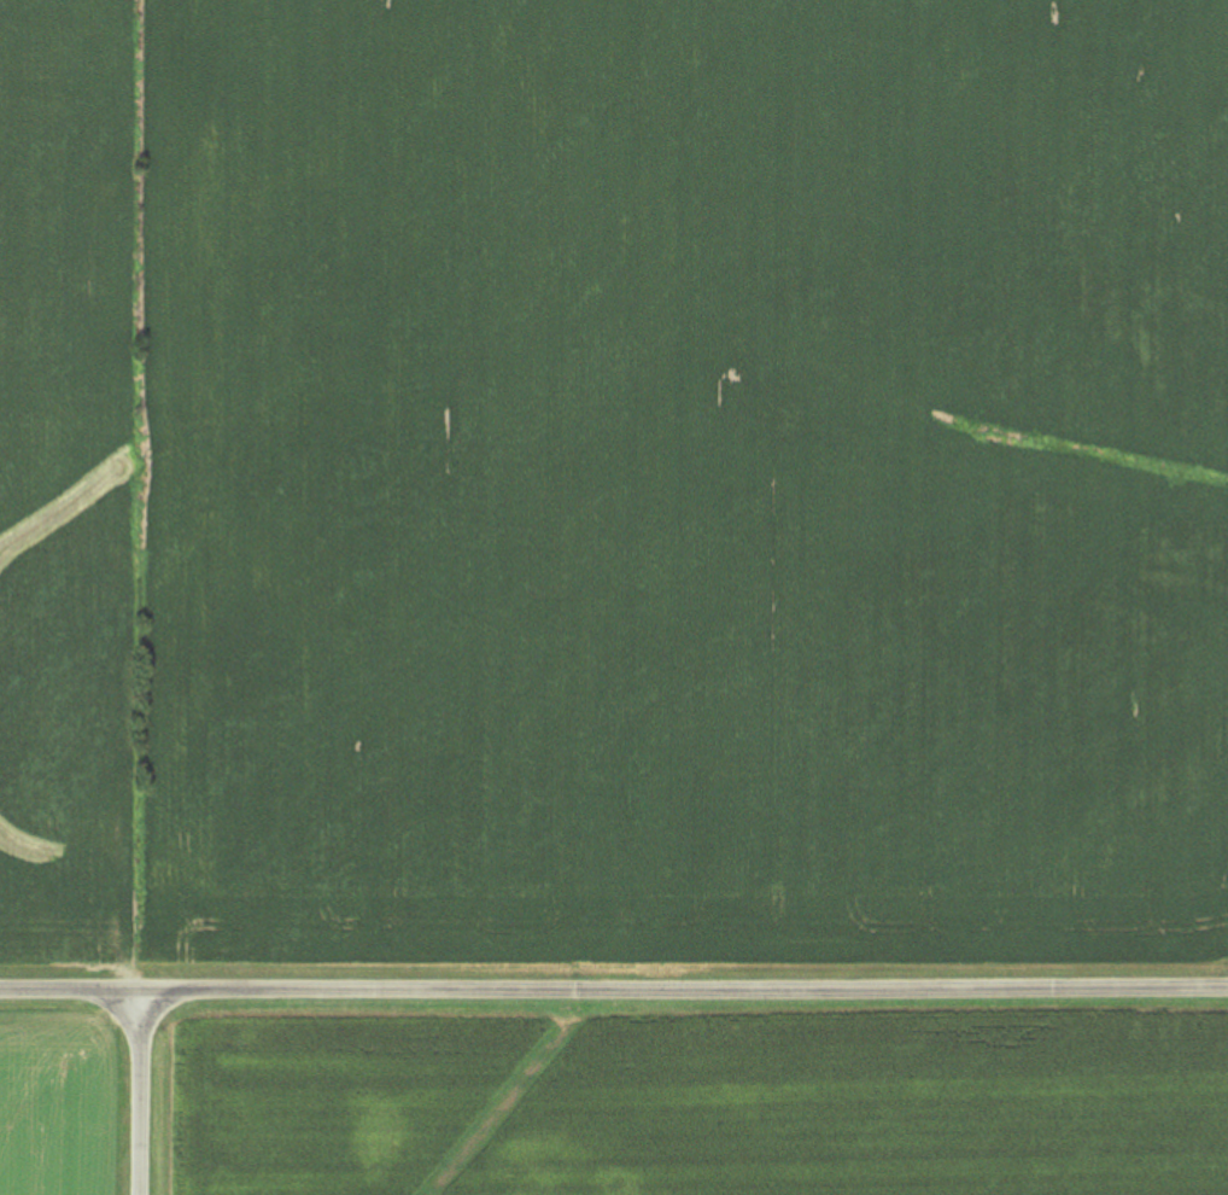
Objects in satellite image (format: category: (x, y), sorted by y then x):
road: (613, 990)
road: (140, 1091)

